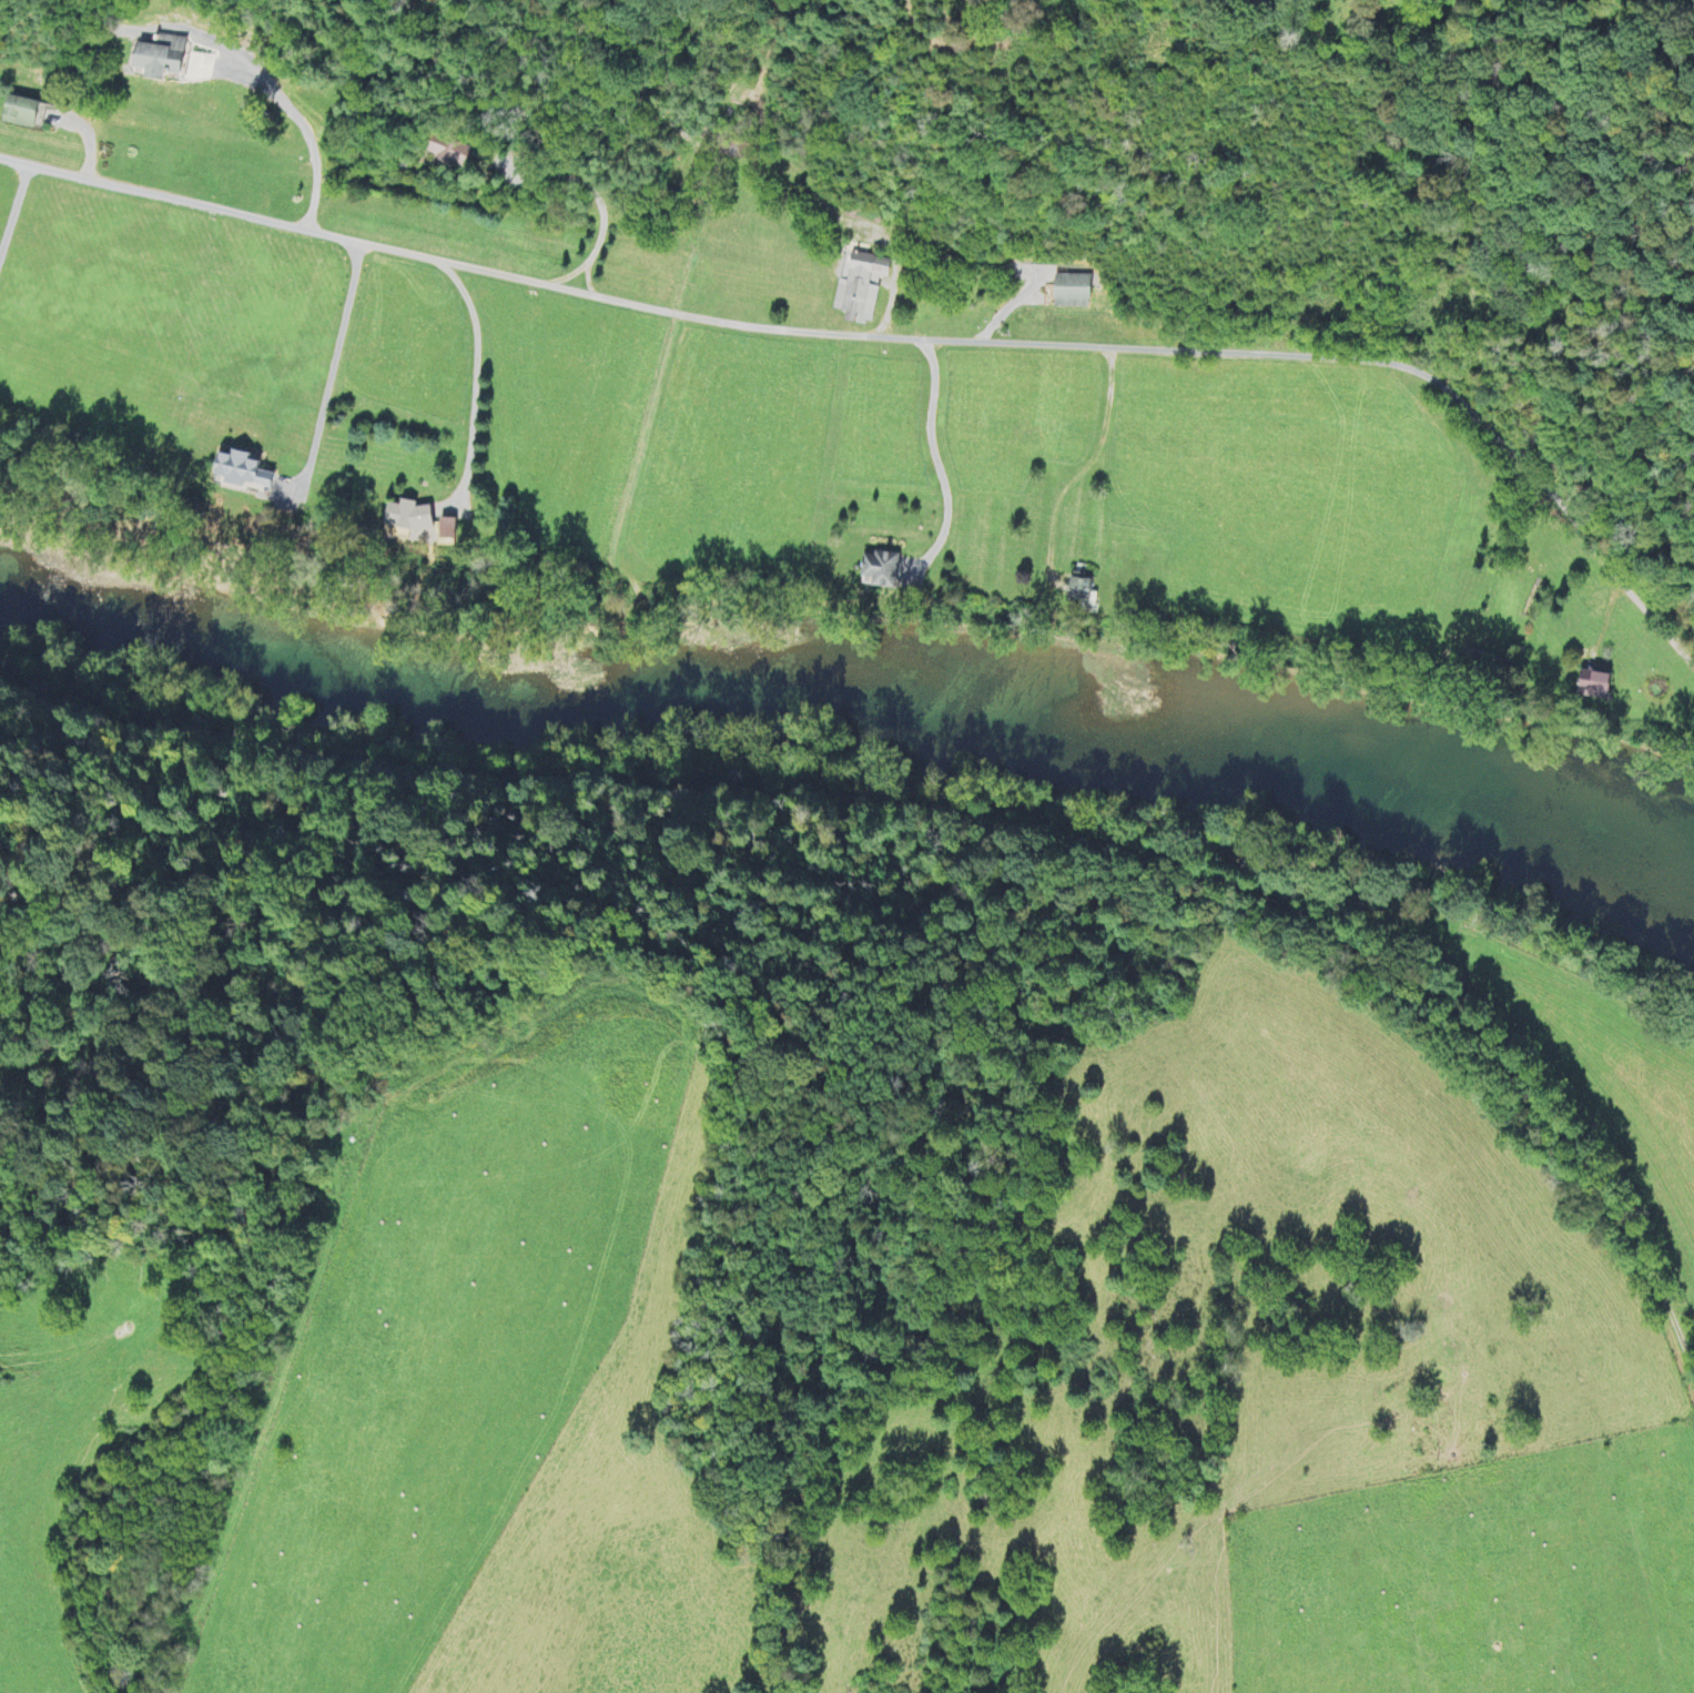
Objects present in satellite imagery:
building: (155, 58)
building: (18, 113)
building: (733, 149)
building: (446, 152)
building: (859, 285)
building: (1067, 292)
road: (899, 343)
building: (406, 514)
building: (1079, 592)
building: (1592, 685)
river: (852, 703)
road: (691, 773)
road: (1569, 1137)

